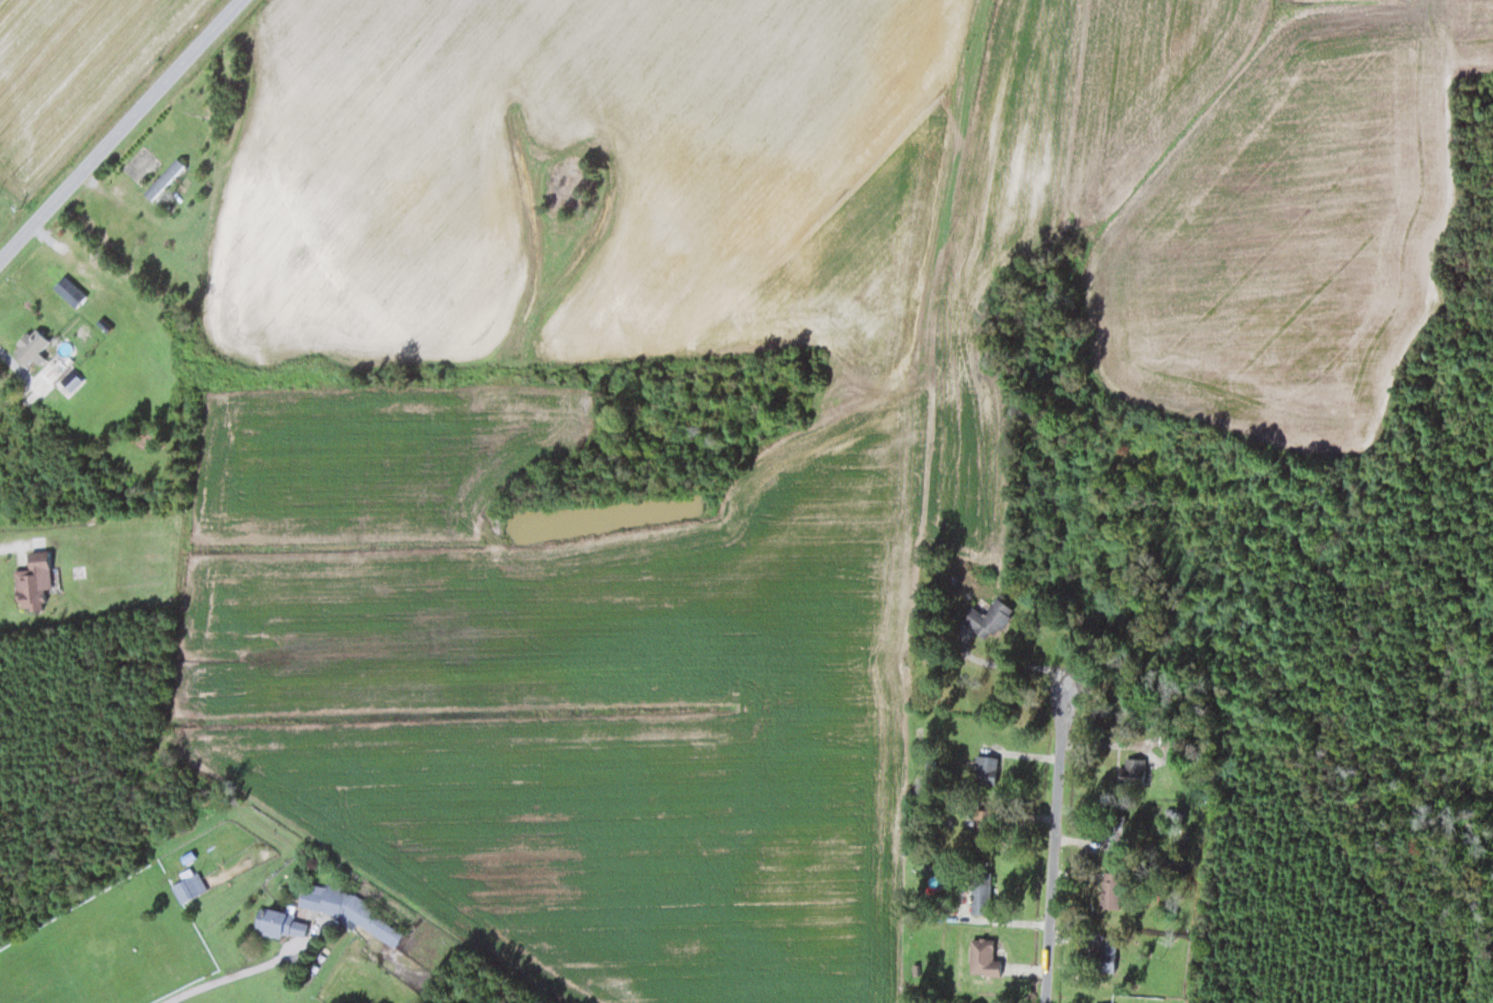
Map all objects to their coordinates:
road: (120, 129)
building: (163, 180)
building: (76, 282)
building: (28, 345)
building: (67, 382)
building: (15, 581)
building: (987, 618)
building: (987, 770)
building: (1132, 772)
road: (1035, 783)
building: (1115, 832)
building: (187, 886)
building: (979, 891)
building: (352, 914)
building: (1105, 955)
road: (223, 977)

